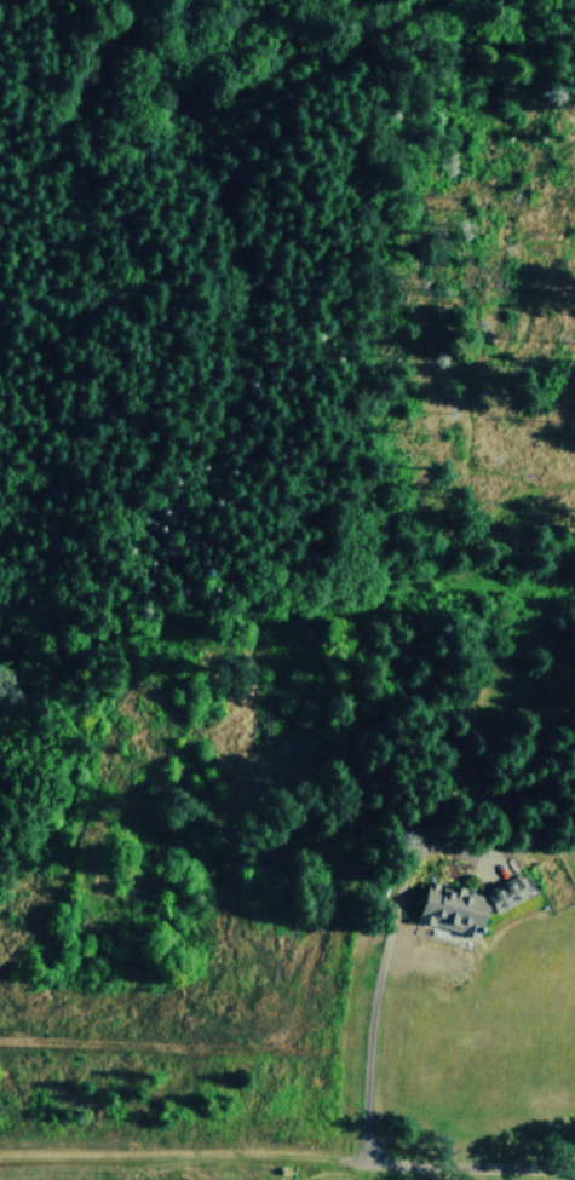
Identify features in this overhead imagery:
building: (459, 903)
road: (380, 974)
road: (287, 1156)

